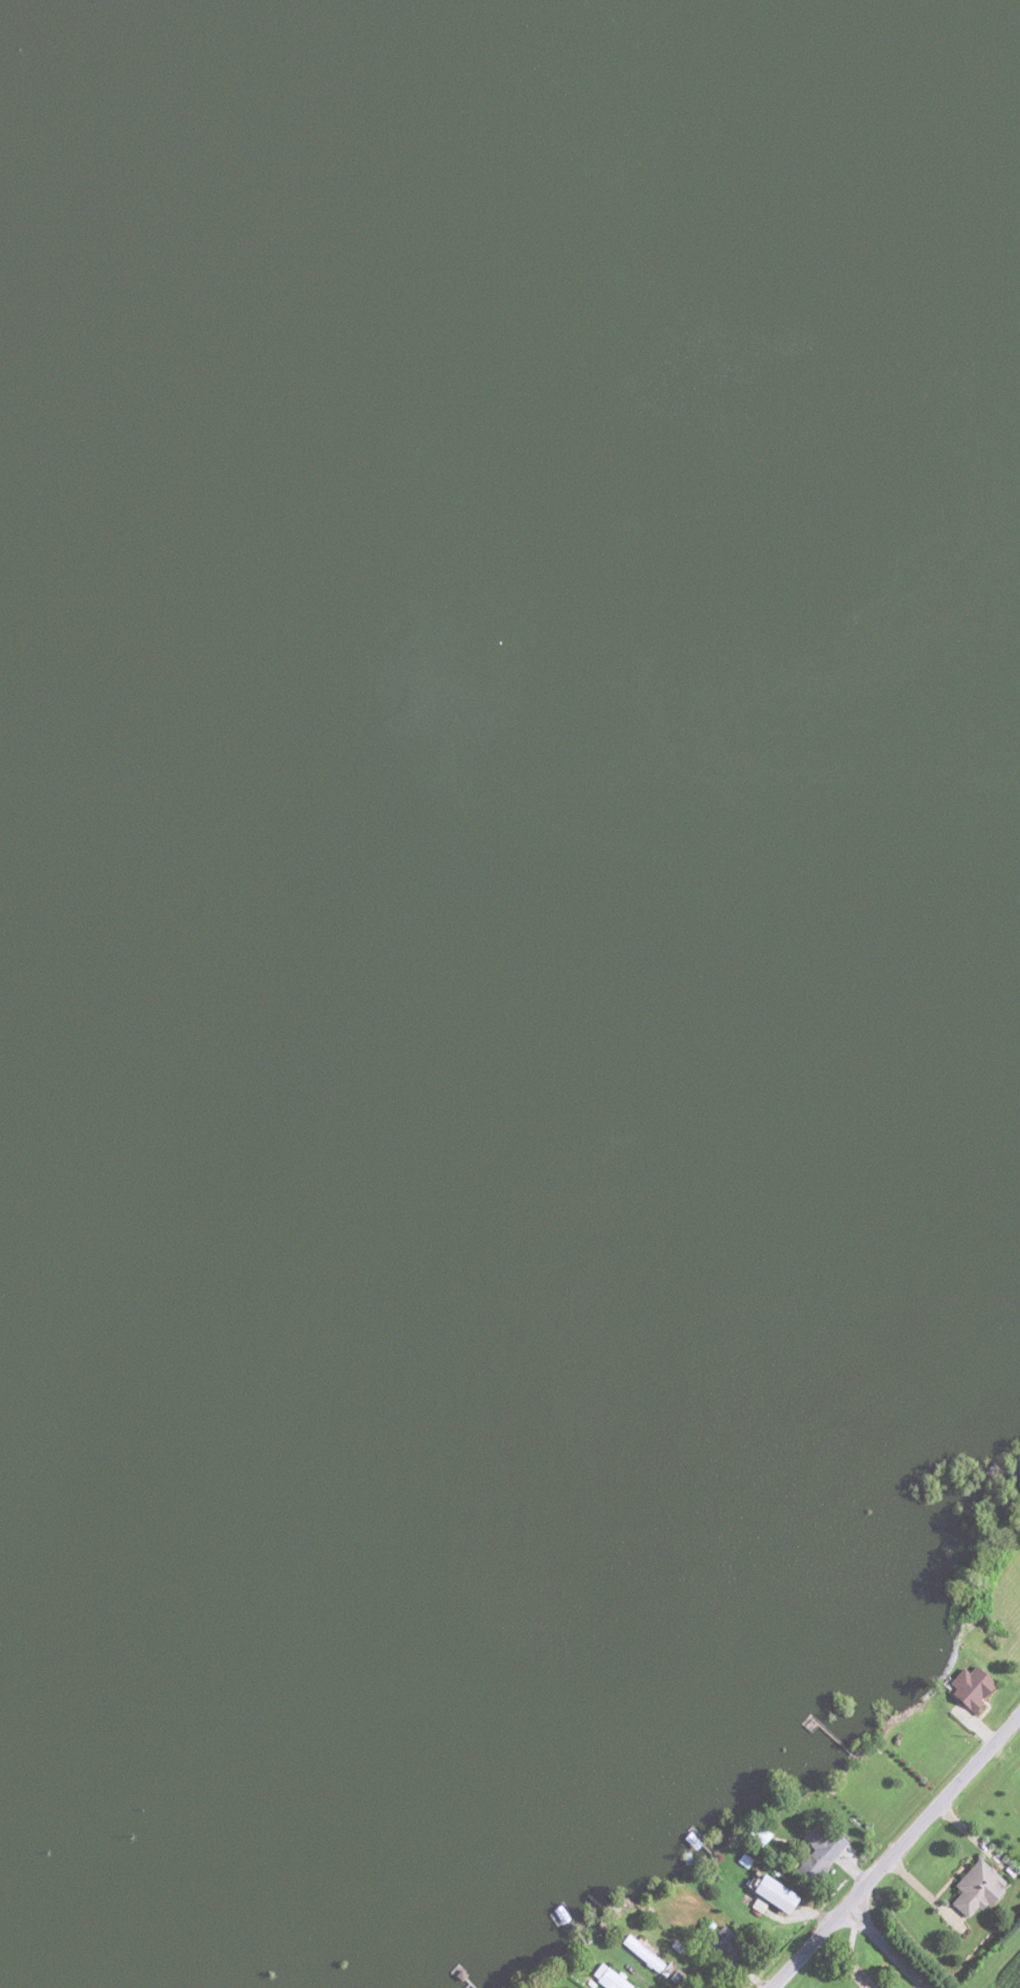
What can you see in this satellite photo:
road: (895, 1851)
building: (816, 1855)
building: (969, 1888)
building: (766, 1893)
building: (718, 1942)
road: (880, 1948)
building: (604, 1976)
road: (915, 1987)

